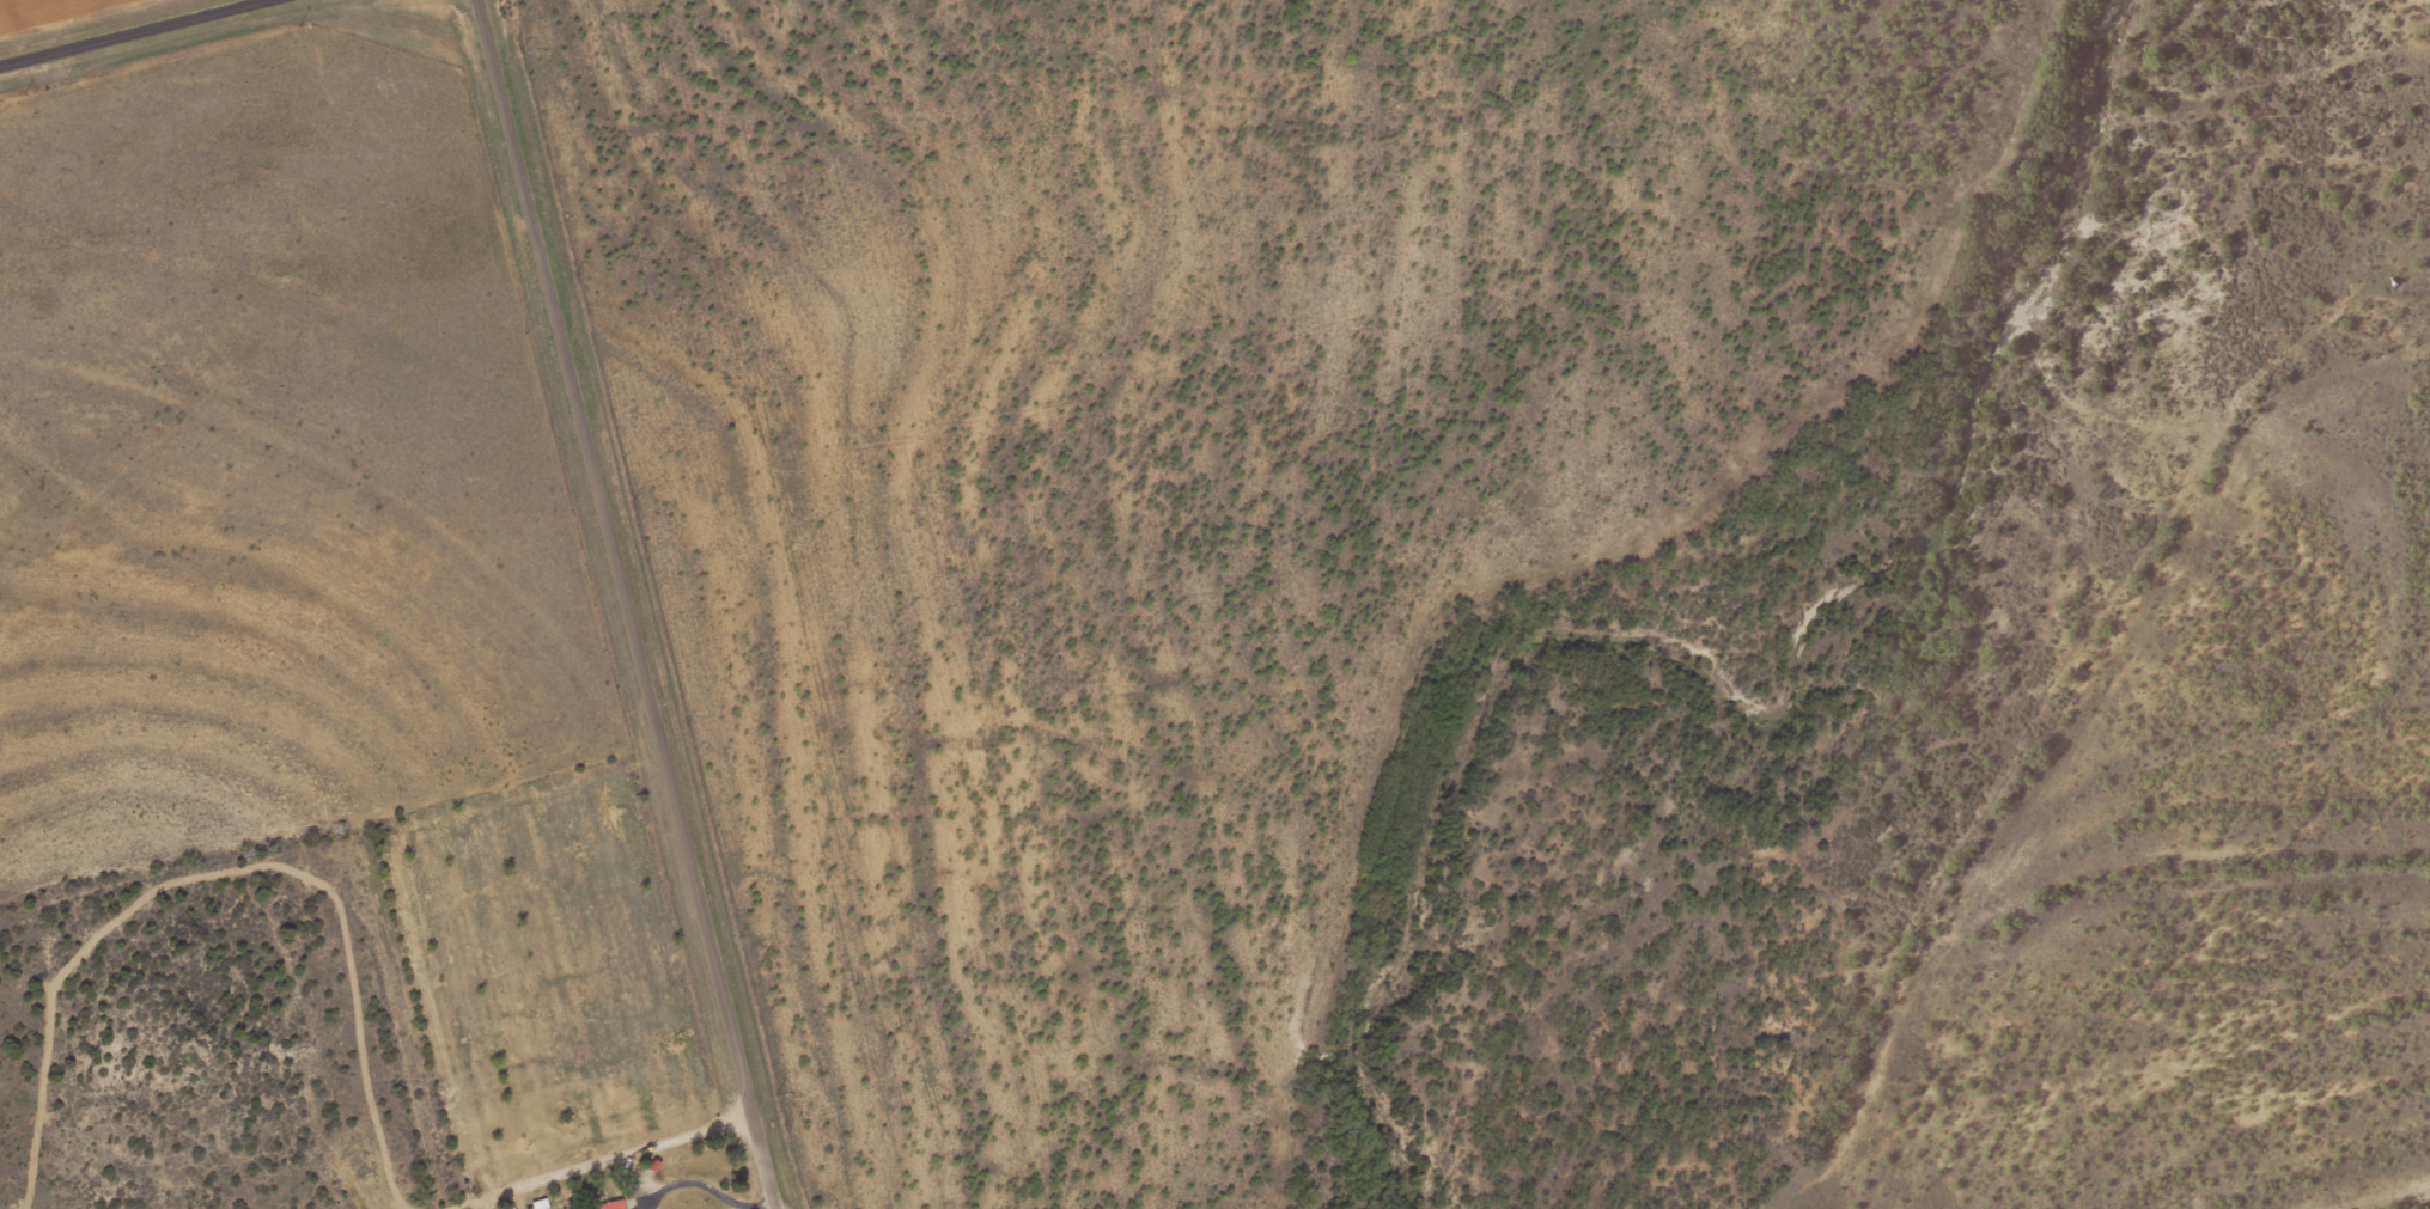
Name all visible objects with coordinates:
road: (124, 30)
road: (631, 604)
road: (333, 825)
building: (615, 1204)

